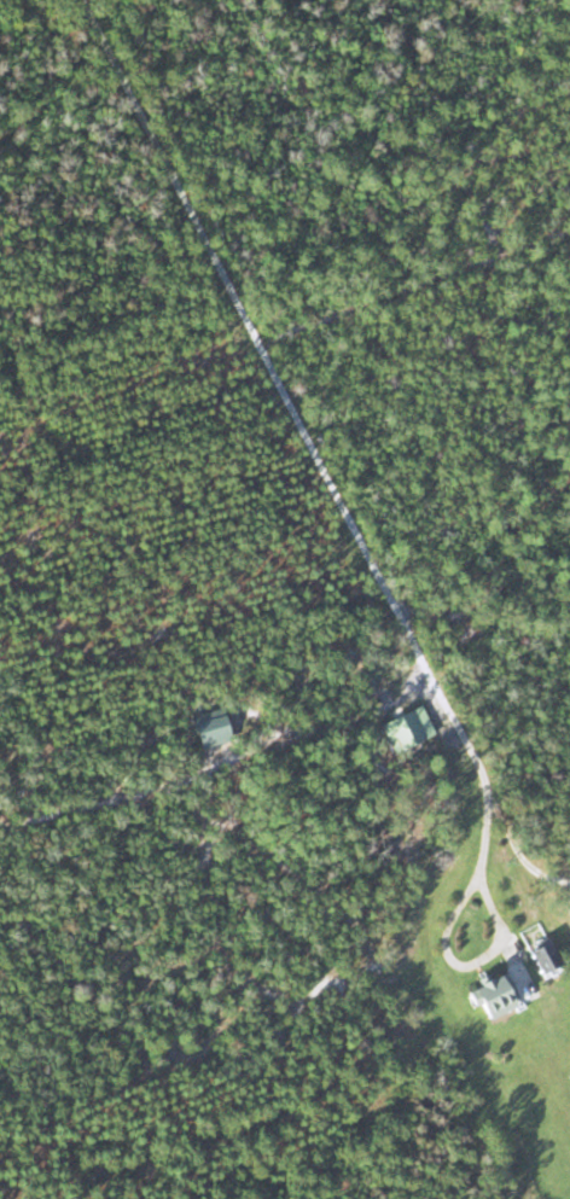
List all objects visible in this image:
building: (405, 727)
building: (540, 959)
building: (487, 994)

